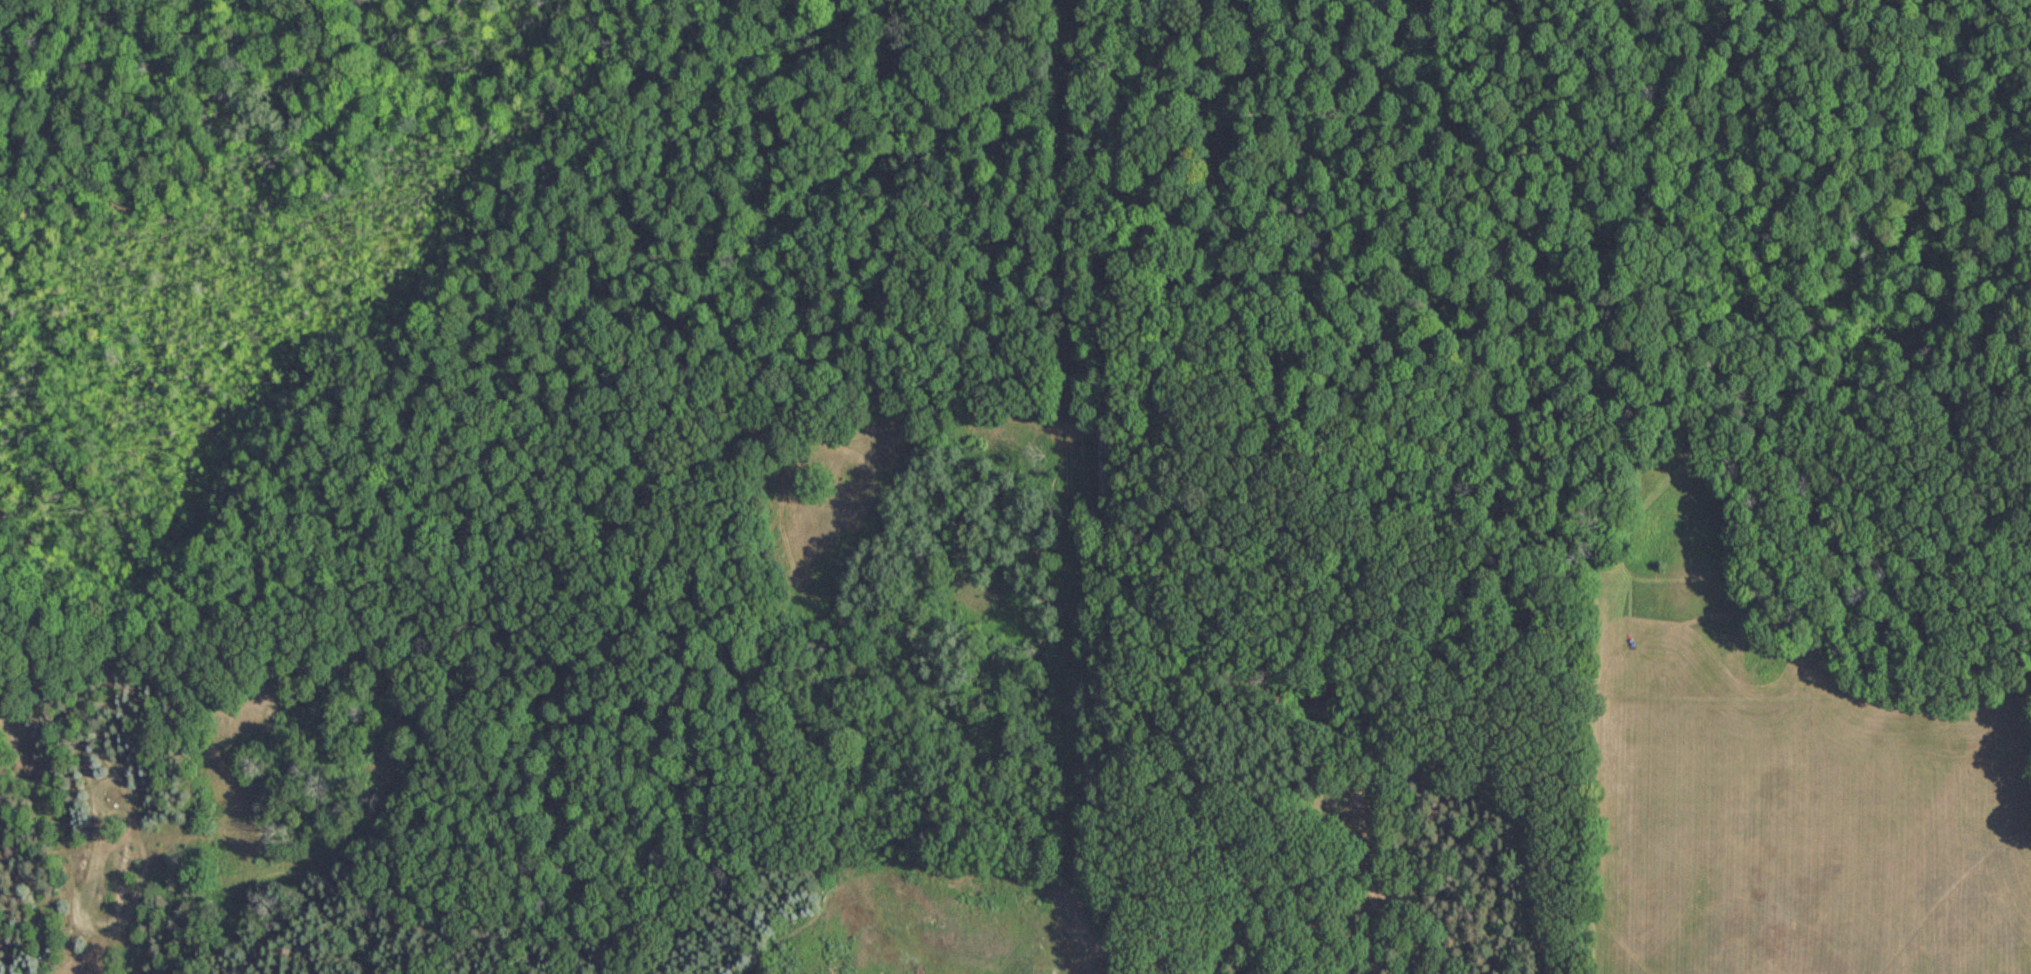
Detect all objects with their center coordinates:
road: (1078, 481)
crop: (1795, 810)
road: (1109, 972)

